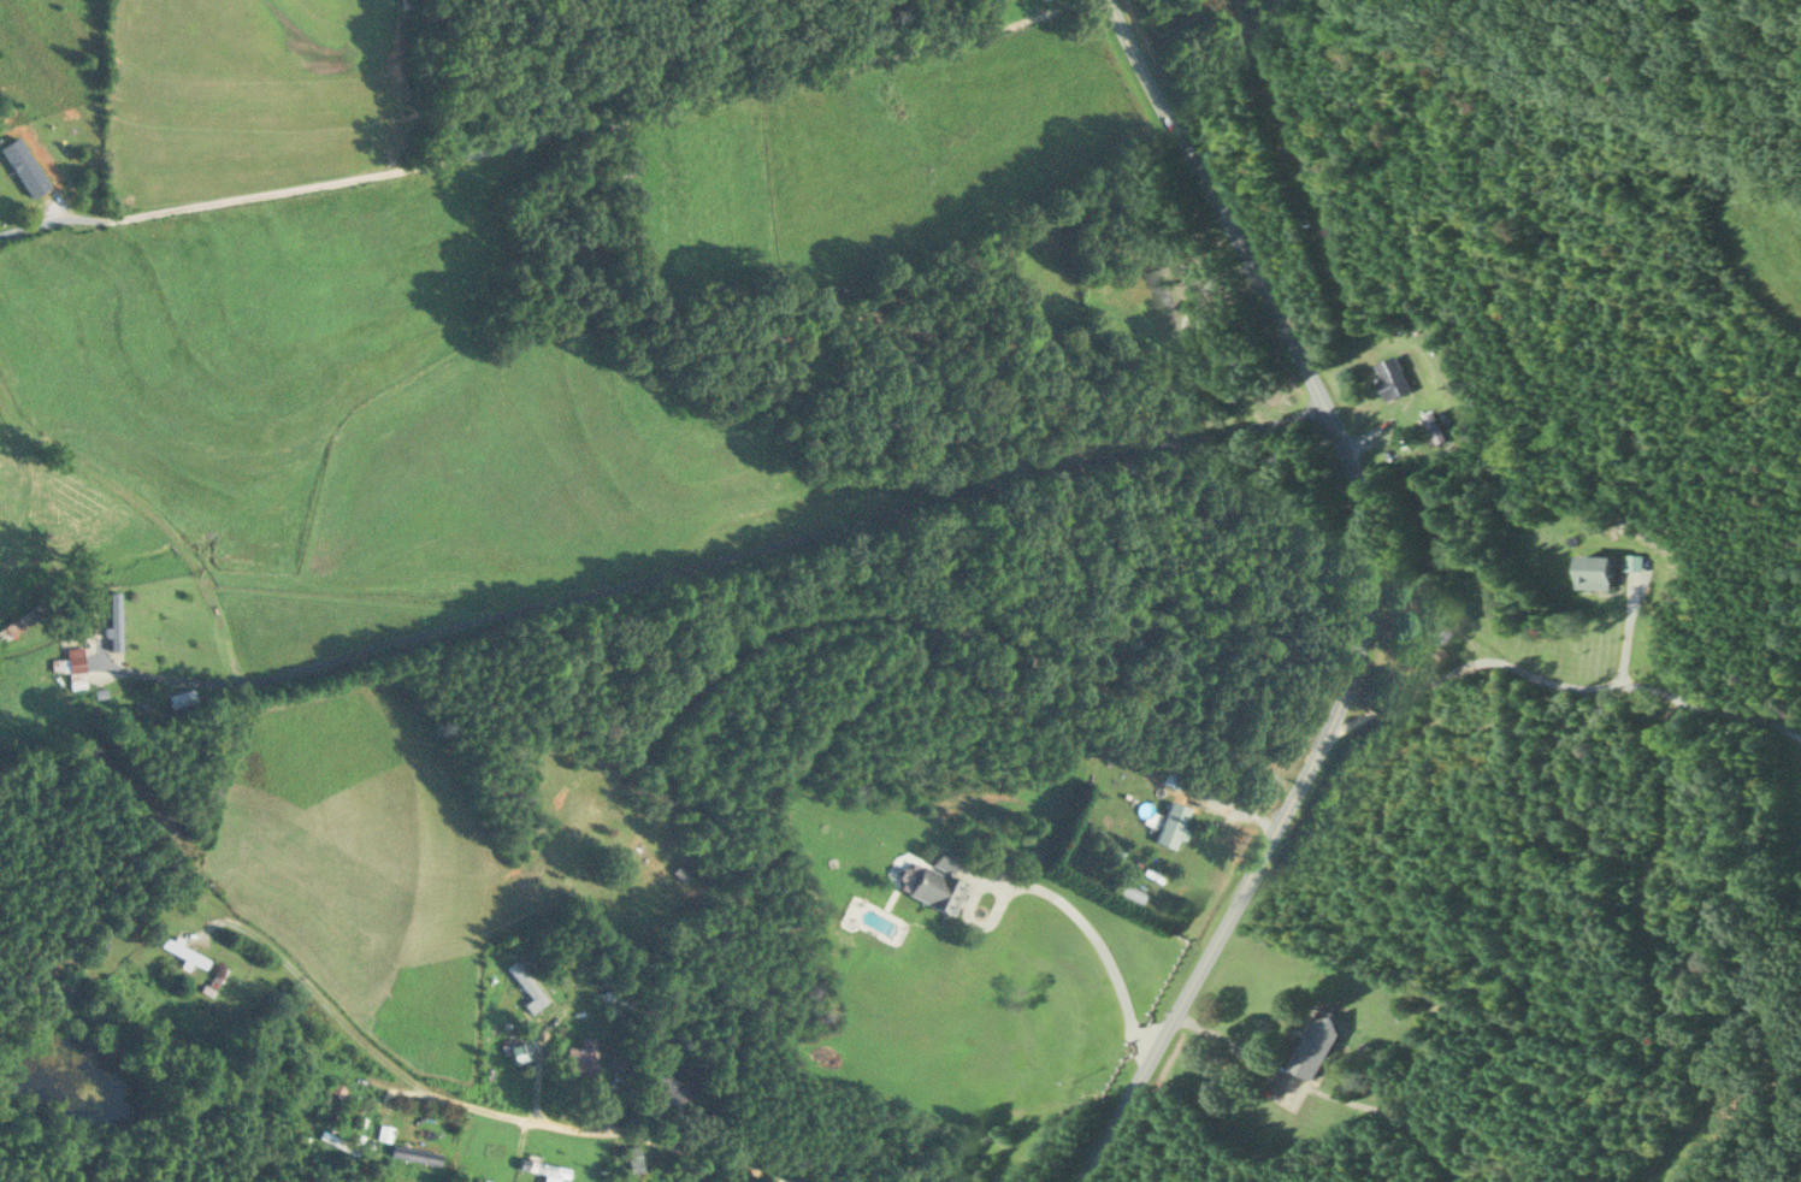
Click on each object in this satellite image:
road: (545, 135)
building: (620, 170)
building: (12, 175)
building: (1390, 376)
building: (1435, 427)
road: (778, 542)
building: (1593, 571)
road: (1359, 598)
building: (114, 621)
building: (17, 625)
building: (1428, 651)
building: (72, 667)
road: (167, 675)
road: (1555, 684)
building: (1169, 778)
building: (1171, 825)
building: (648, 857)
building: (934, 882)
building: (1128, 893)
road: (1057, 898)
building: (184, 953)
building: (526, 985)
building: (1316, 1046)
building: (583, 1056)
building: (669, 1087)
road: (1323, 1093)
building: (331, 1098)
road: (462, 1104)
building: (383, 1133)
building: (634, 1159)
building: (543, 1169)

